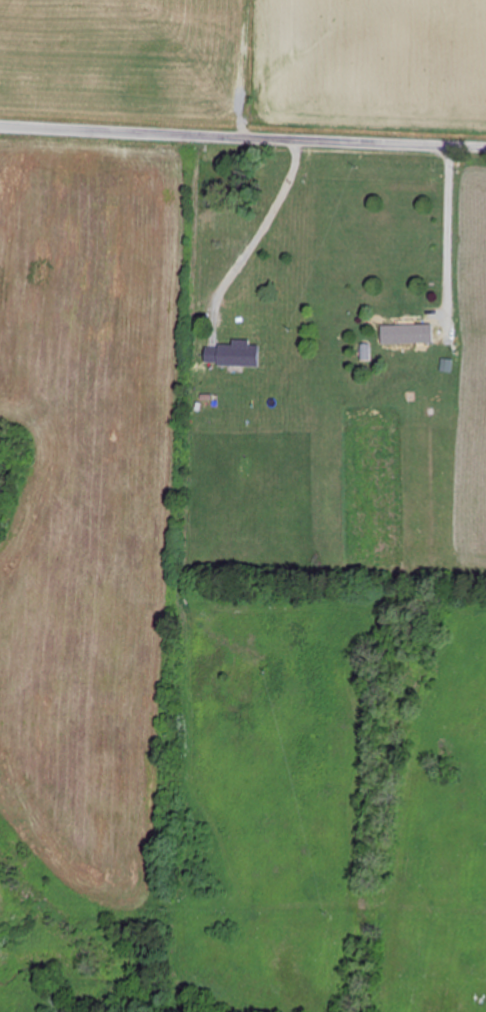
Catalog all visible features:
road: (242, 142)
building: (241, 321)
building: (409, 337)
building: (448, 338)

